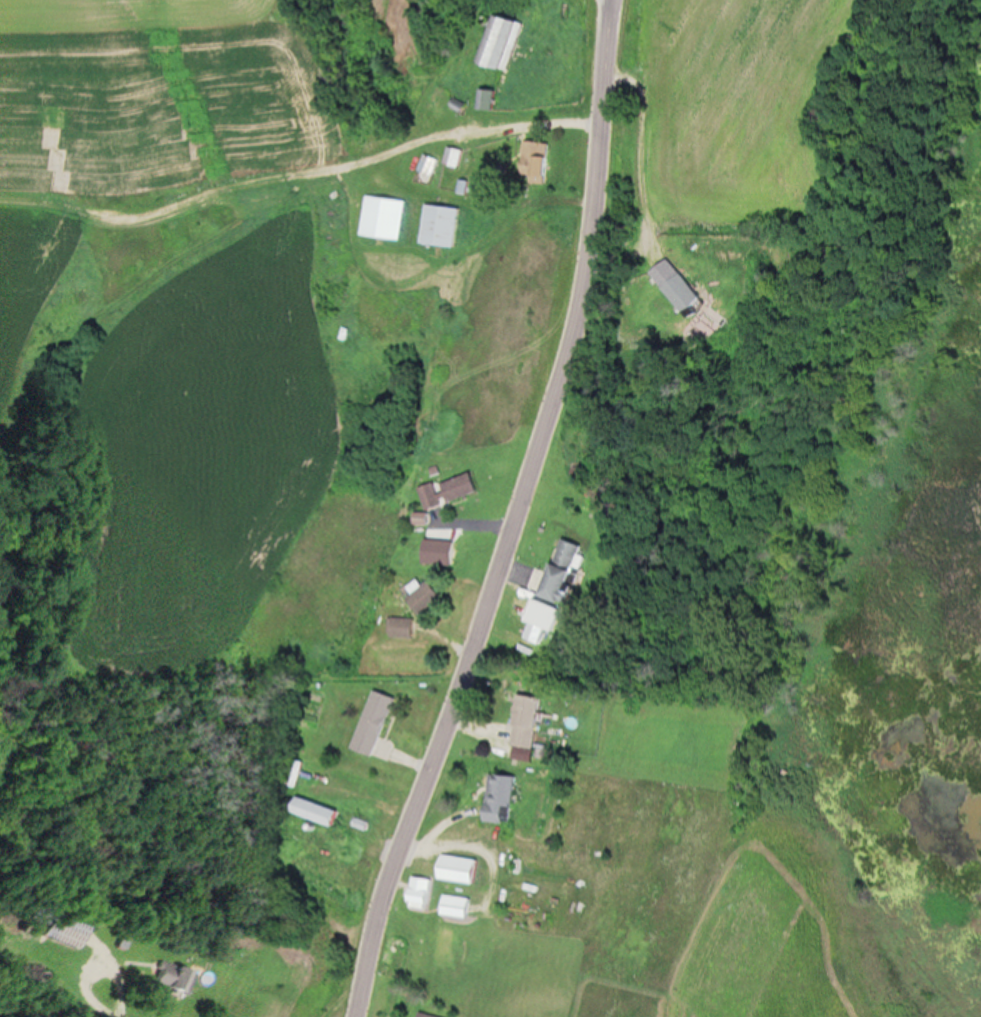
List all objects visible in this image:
building: (499, 37)
building: (484, 97)
road: (461, 135)
building: (449, 154)
building: (535, 162)
building: (440, 223)
building: (394, 257)
building: (447, 490)
road: (511, 515)
building: (567, 568)
building: (425, 596)
building: (400, 626)
building: (530, 720)
building: (372, 721)
building: (290, 770)
building: (503, 797)
building: (319, 811)
road: (462, 839)
building: (462, 868)
building: (424, 891)
building: (459, 906)
building: (63, 928)
building: (178, 979)
building: (425, 1014)

